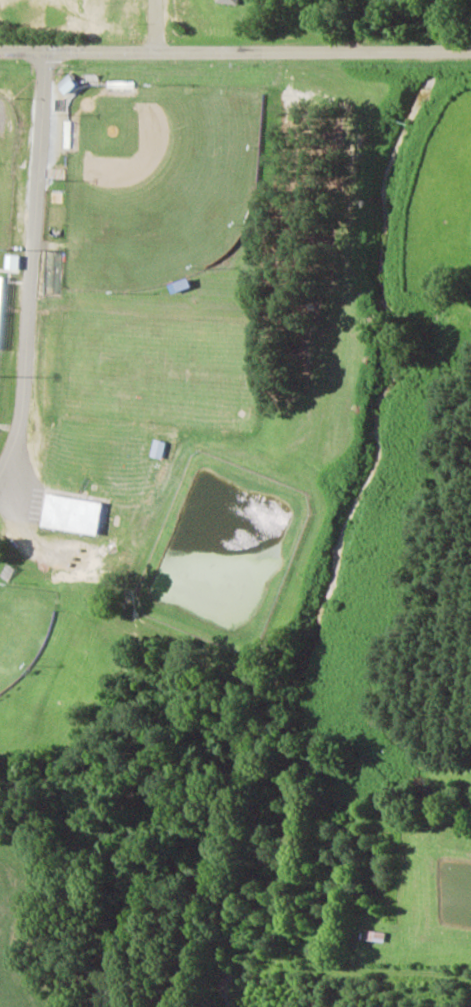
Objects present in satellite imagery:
building: (228, 1)
road: (235, 48)
building: (13, 262)
road: (32, 265)
building: (71, 513)

